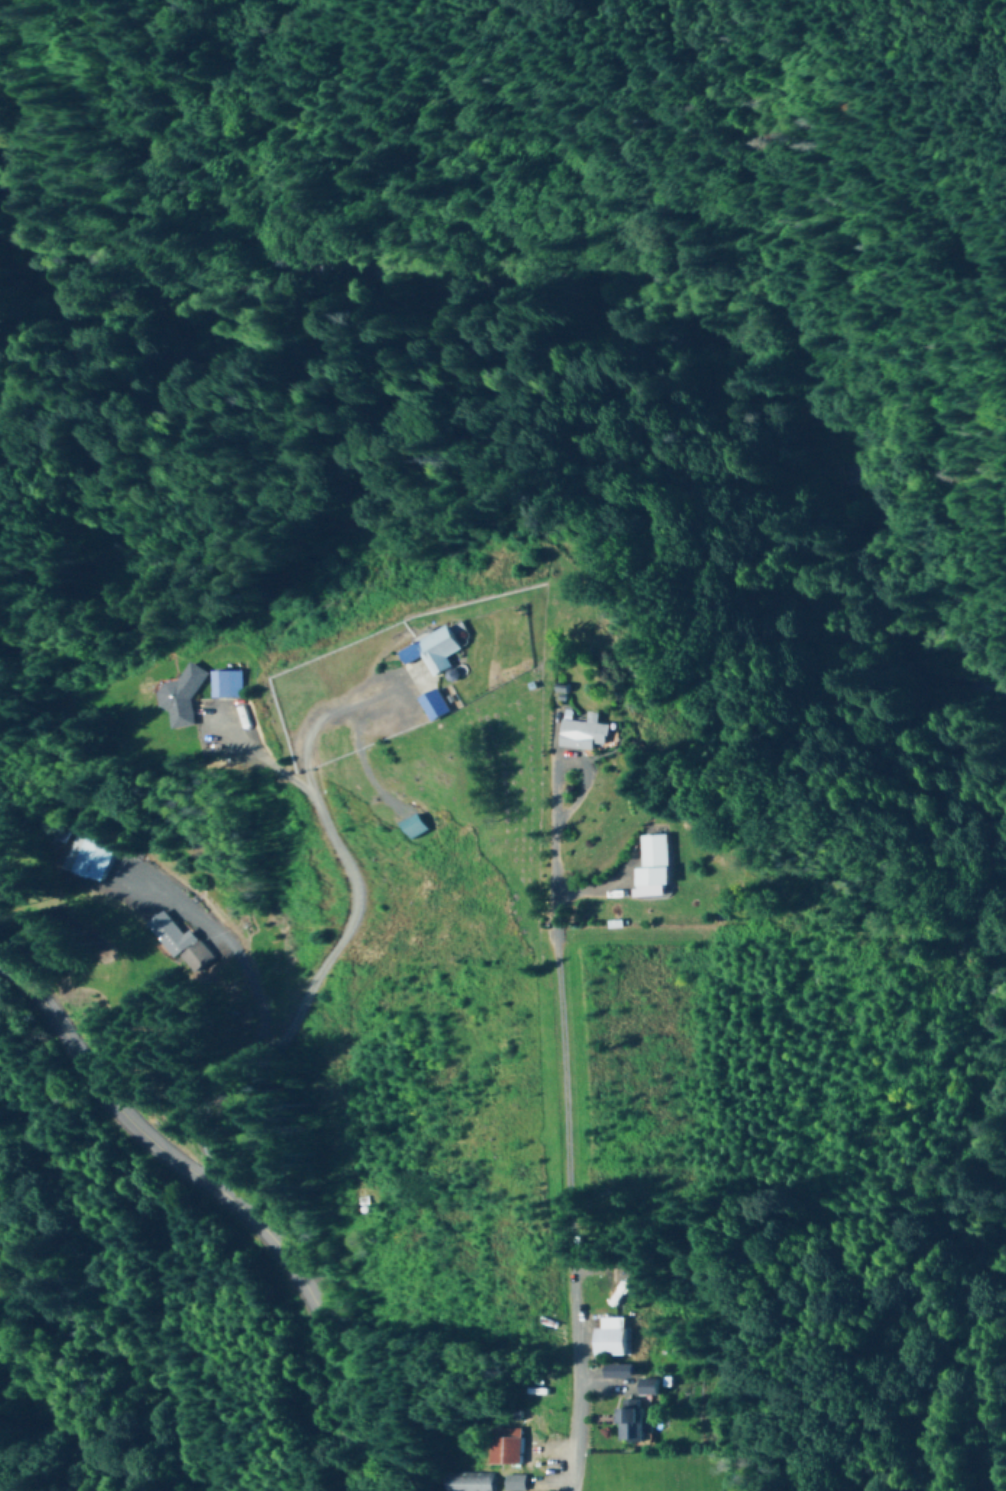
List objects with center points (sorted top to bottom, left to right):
building: (404, 653)
building: (159, 702)
building: (413, 707)
building: (554, 737)
road: (250, 754)
building: (89, 860)
building: (637, 864)
road: (308, 988)
road: (571, 1128)
road: (219, 1201)
building: (603, 1339)
building: (623, 1424)
building: (507, 1447)
building: (472, 1482)
building: (517, 1483)

